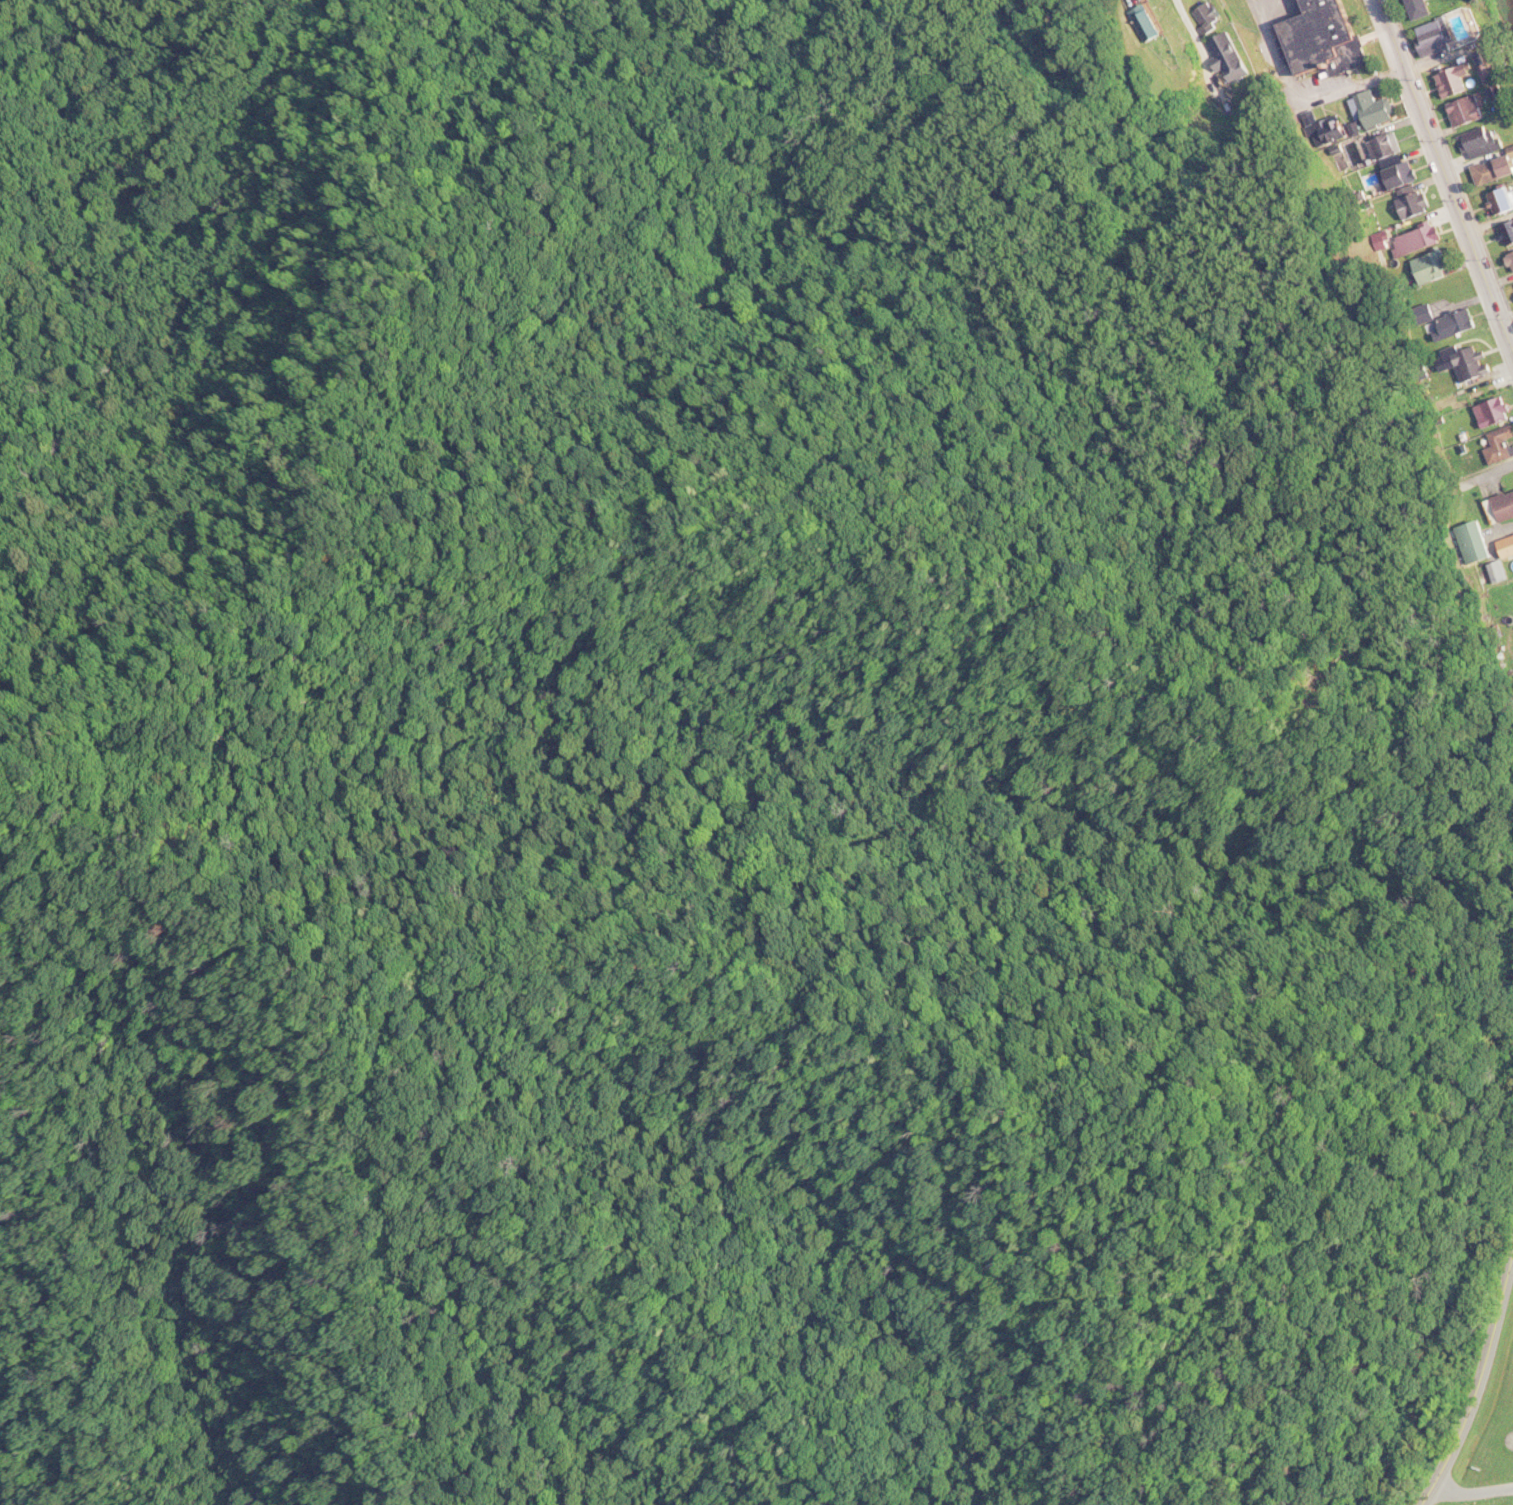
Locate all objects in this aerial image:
road: (1127, 4)
building: (1424, 9)
road: (1189, 12)
building: (1212, 19)
building: (1143, 21)
building: (1158, 26)
building: (1440, 36)
building: (1320, 40)
building: (1231, 57)
building: (1495, 76)
building: (1453, 78)
building: (1464, 81)
building: (1504, 93)
building: (1465, 109)
building: (1376, 110)
building: (1477, 111)
building: (1334, 132)
building: (1488, 142)
road: (1454, 146)
building: (1388, 148)
road: (1448, 169)
building: (1499, 172)
building: (1405, 175)
road: (1439, 193)
building: (1506, 203)
building: (1414, 206)
building: (1511, 230)
building: (1423, 239)
building: (1510, 259)
building: (1436, 267)
building: (1424, 313)
building: (1457, 325)
building: (1476, 364)
building: (1498, 412)
building: (1503, 446)
building: (1506, 506)
building: (1474, 541)
building: (1508, 547)
building: (1496, 570)
road: (1477, 1386)
road: (1473, 1491)

